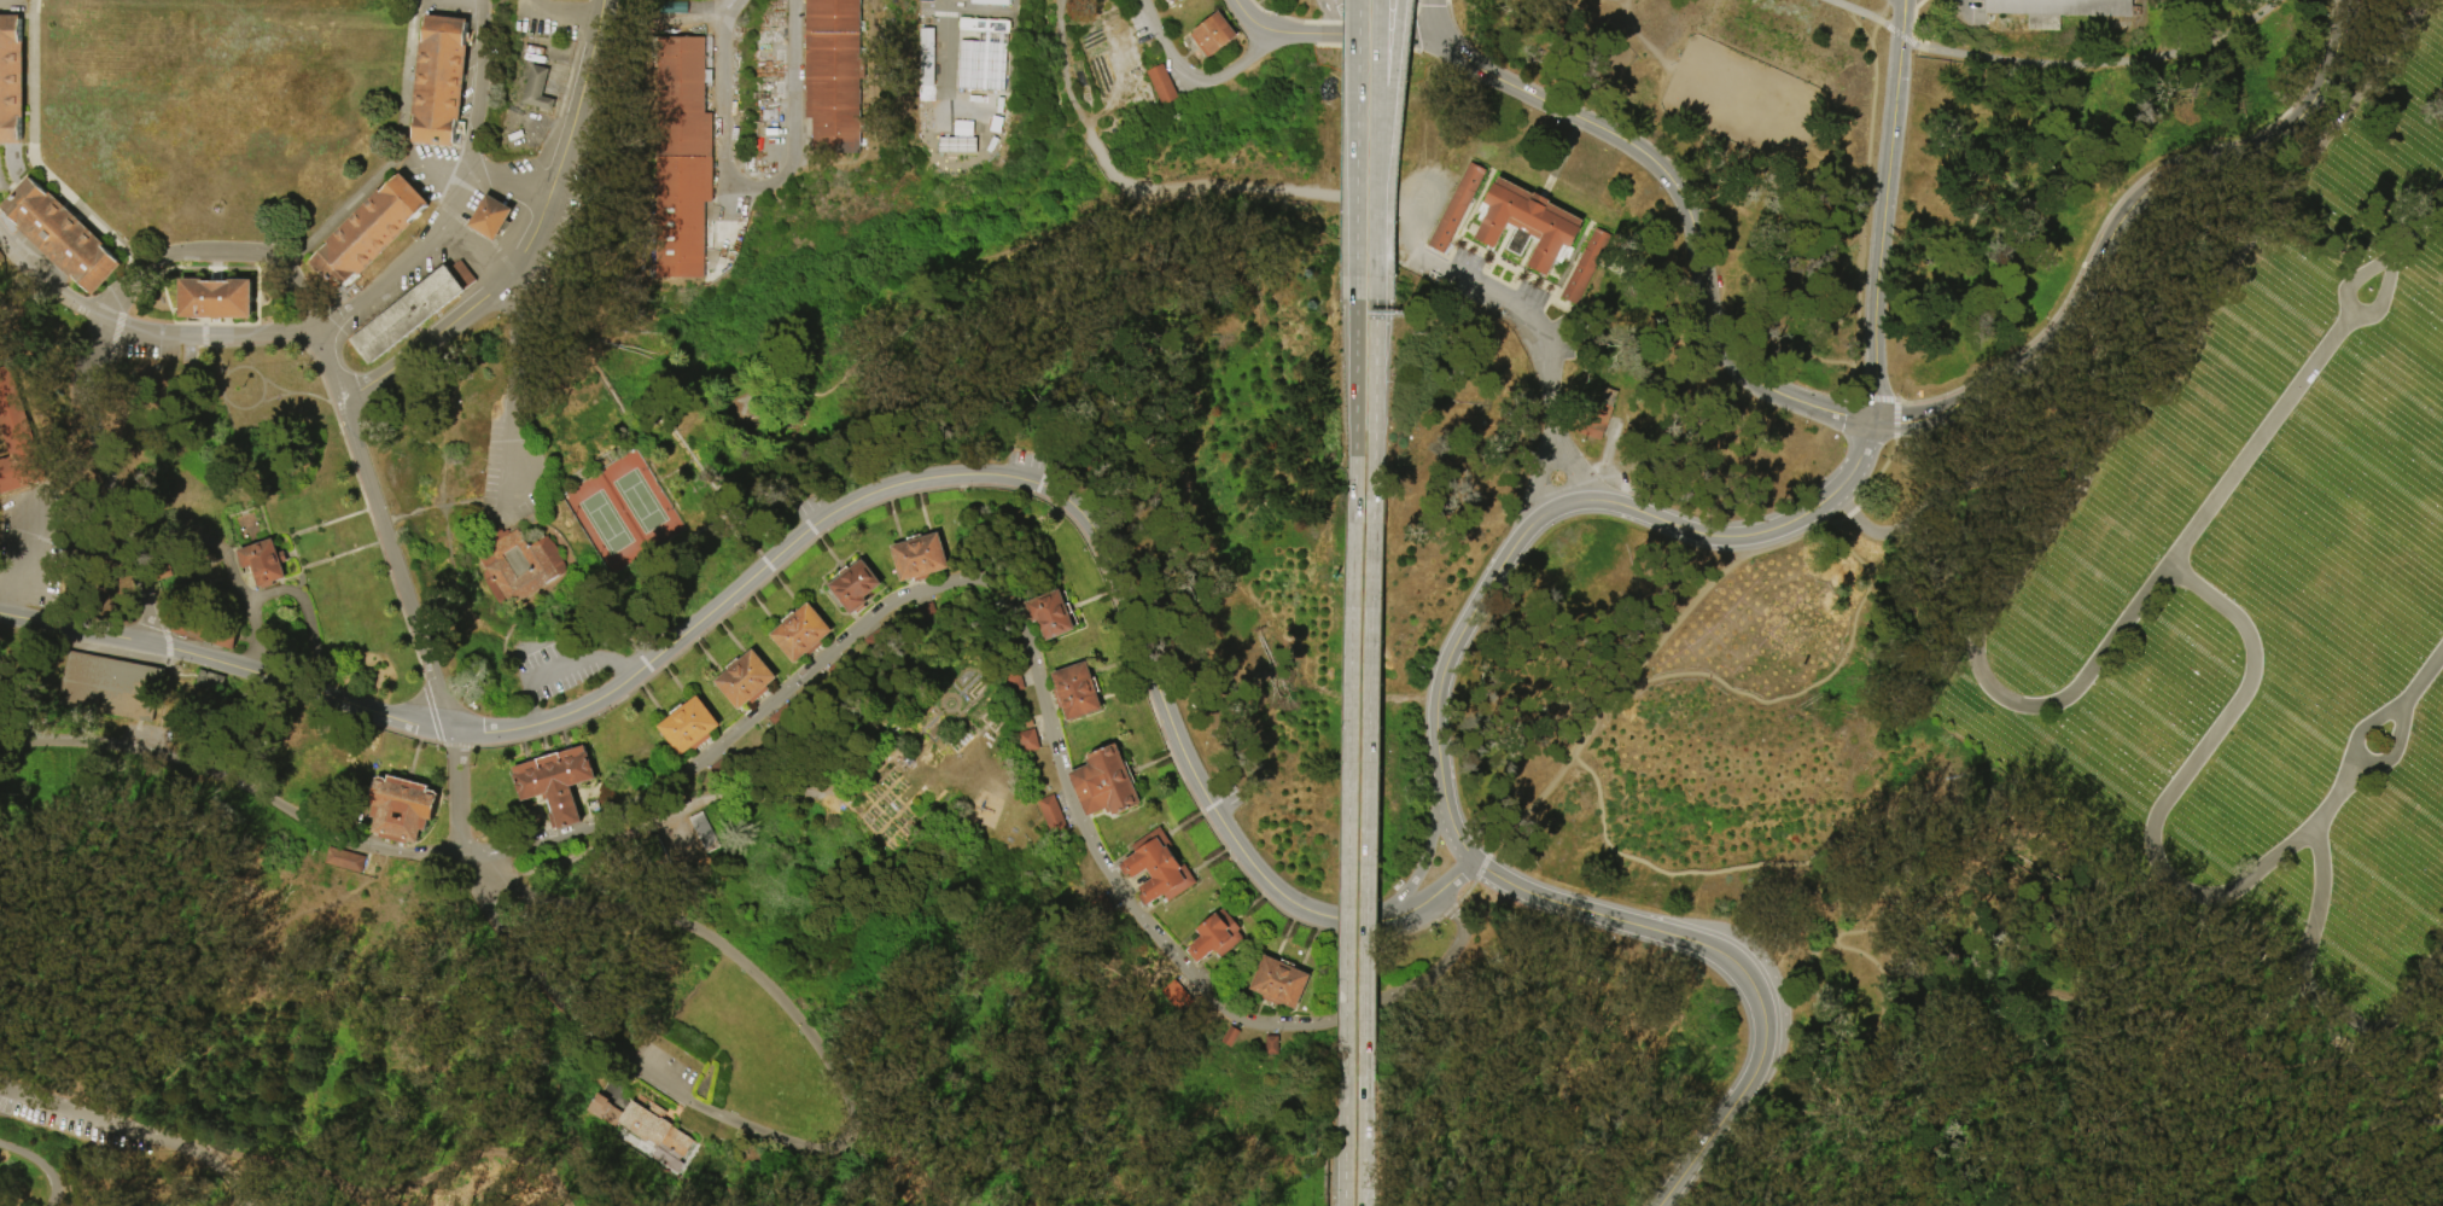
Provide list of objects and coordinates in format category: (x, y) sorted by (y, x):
road: (439, 0)
building: (1166, 0)
building: (1173, 0)
building: (1179, 0)
building: (684, 1)
road: (425, 2)
road: (524, 5)
road: (1325, 5)
road: (1964, 6)
building: (2054, 10)
road: (1859, 12)
road: (552, 13)
road: (949, 14)
road: (590, 18)
road: (1249, 18)
road: (1432, 18)
road: (1901, 18)
road: (1913, 19)
road: (1333, 22)
road: (1855, 22)
road: (2170, 27)
road: (1893, 31)
building: (1214, 35)
road: (1355, 35)
road: (1907, 41)
road: (2391, 57)
road: (2101, 63)
building: (923, 64)
building: (835, 76)
building: (963, 76)
road: (1195, 76)
building: (11, 81)
road: (1065, 81)
building: (441, 82)
building: (1164, 86)
road: (949, 87)
building: (538, 88)
road: (1357, 138)
road: (1376, 138)
road: (1384, 138)
road: (6, 155)
building: (683, 158)
road: (408, 165)
road: (1112, 170)
road: (435, 174)
road: (478, 176)
road: (750, 179)
road: (18, 185)
road: (520, 187)
road: (553, 187)
parking lot: (576, 191)
road: (1168, 191)
road: (455, 193)
road: (1307, 193)
road: (2116, 200)
building: (1458, 208)
flagpole: (217, 210)
road: (1686, 212)
building: (492, 217)
road: (2118, 221)
road: (2419, 221)
building: (1528, 225)
road: (1879, 228)
building: (371, 234)
building: (62, 237)
road: (1409, 239)
road: (532, 240)
road: (1850, 244)
road: (218, 252)
road: (479, 254)
road: (501, 256)
road: (216, 266)
building: (1587, 267)
road: (211, 268)
road: (53, 287)
parking lot: (397, 289)
road: (1495, 296)
building: (217, 298)
road: (1855, 301)
building: (413, 311)
road: (2348, 317)
road: (217, 324)
road: (203, 328)
road: (220, 333)
road: (214, 350)
parking lot: (167, 353)
road: (332, 365)
road: (255, 372)
road: (303, 394)
road: (514, 394)
road: (612, 395)
road: (2139, 396)
road: (273, 398)
road: (1353, 398)
road: (1372, 400)
road: (1895, 404)
road: (1545, 406)
building: (1594, 416)
building: (17, 438)
building: (1629, 443)
road: (689, 454)
road: (606, 458)
road: (577, 470)
road: (1877, 473)
parking lot: (512, 474)
road: (1945, 474)
road: (577, 476)
road: (1005, 476)
road: (1575, 477)
road: (104, 482)
road: (1540, 490)
road: (439, 494)
road: (494, 501)
road: (1590, 501)
road: (258, 507)
road: (441, 507)
parking lot: (809, 507)
park: (619, 511)
road: (1847, 513)
road: (346, 517)
road: (392, 519)
road: (291, 536)
road: (202, 538)
road: (2185, 538)
road: (357, 549)
building: (921, 558)
road: (648, 559)
road: (570, 560)
road: (762, 560)
building: (264, 563)
building: (519, 565)
road: (302, 569)
road: (400, 569)
park: (2257, 579)
road: (1706, 585)
building: (853, 587)
road: (540, 600)
park: (1221, 602)
building: (928, 613)
building: (1053, 614)
road: (521, 616)
road: (313, 624)
road: (74, 628)
building: (208, 629)
building: (803, 634)
road: (260, 639)
building: (879, 641)
road: (641, 658)
road: (1033, 663)
road: (561, 666)
road: (619, 666)
road: (527, 668)
parking lot: (558, 668)
building: (841, 670)
road: (2425, 674)
building: (105, 678)
building: (208, 680)
building: (747, 681)
building: (1015, 682)
road: (299, 686)
building: (1078, 692)
road: (2407, 698)
road: (1614, 701)
road: (164, 704)
road: (527, 709)
road: (935, 711)
building: (789, 716)
building: (1030, 723)
building: (690, 727)
building: (1030, 741)
building: (723, 770)
building: (556, 783)
building: (1106, 783)
road: (235, 788)
road: (2340, 791)
road: (2170, 793)
road: (459, 798)
road: (1348, 799)
road: (1366, 799)
building: (402, 809)
road: (1526, 811)
building: (1053, 815)
road: (1450, 822)
road: (651, 827)
building: (706, 833)
road: (1424, 853)
building: (659, 857)
building: (345, 861)
road: (1847, 862)
building: (1159, 869)
road: (1454, 878)
road: (1467, 890)
road: (1441, 902)
building: (1102, 907)
road: (1412, 909)
road: (66, 937)
building: (1217, 937)
road: (715, 939)
road: (2307, 944)
road: (1819, 950)
road: (1789, 959)
road: (1734, 963)
road: (1756, 963)
building: (1281, 983)
road: (2415, 984)
building: (1178, 996)
road: (1854, 1027)
building: (1230, 1036)
road: (2408, 1037)
road: (2372, 1042)
building: (1272, 1047)
road: (616, 1054)
road: (2360, 1061)
road: (2380, 1061)
road: (2360, 1083)
road: (2432, 1089)
road: (2409, 1103)
road: (101, 1124)
building: (655, 1129)
road: (1343, 1141)
road: (1362, 1141)
building: (632, 1147)
road: (899, 1149)
road: (41, 1163)
road: (401, 1184)

